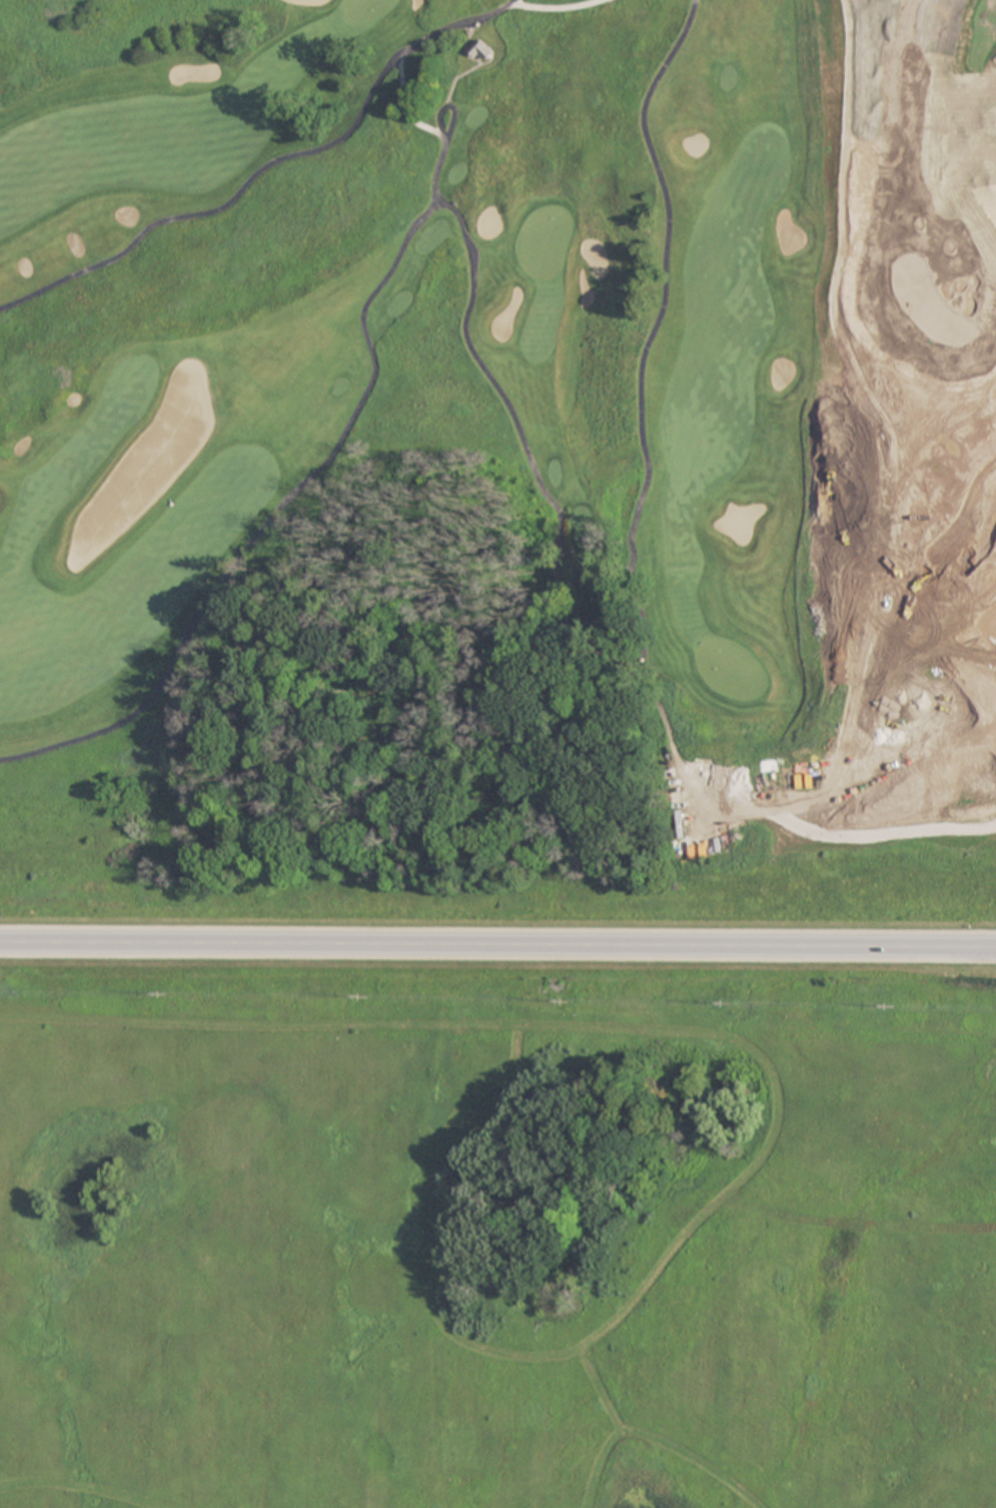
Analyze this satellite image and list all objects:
building: (481, 50)
road: (440, 125)
road: (267, 166)
road: (510, 416)
park: (498, 466)
road: (498, 944)
crop: (497, 1230)

